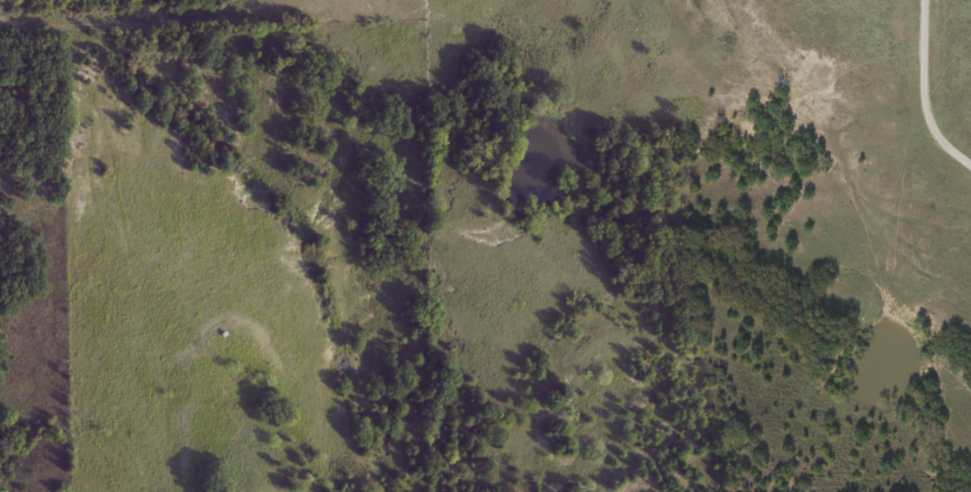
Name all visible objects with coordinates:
road: (920, 94)

